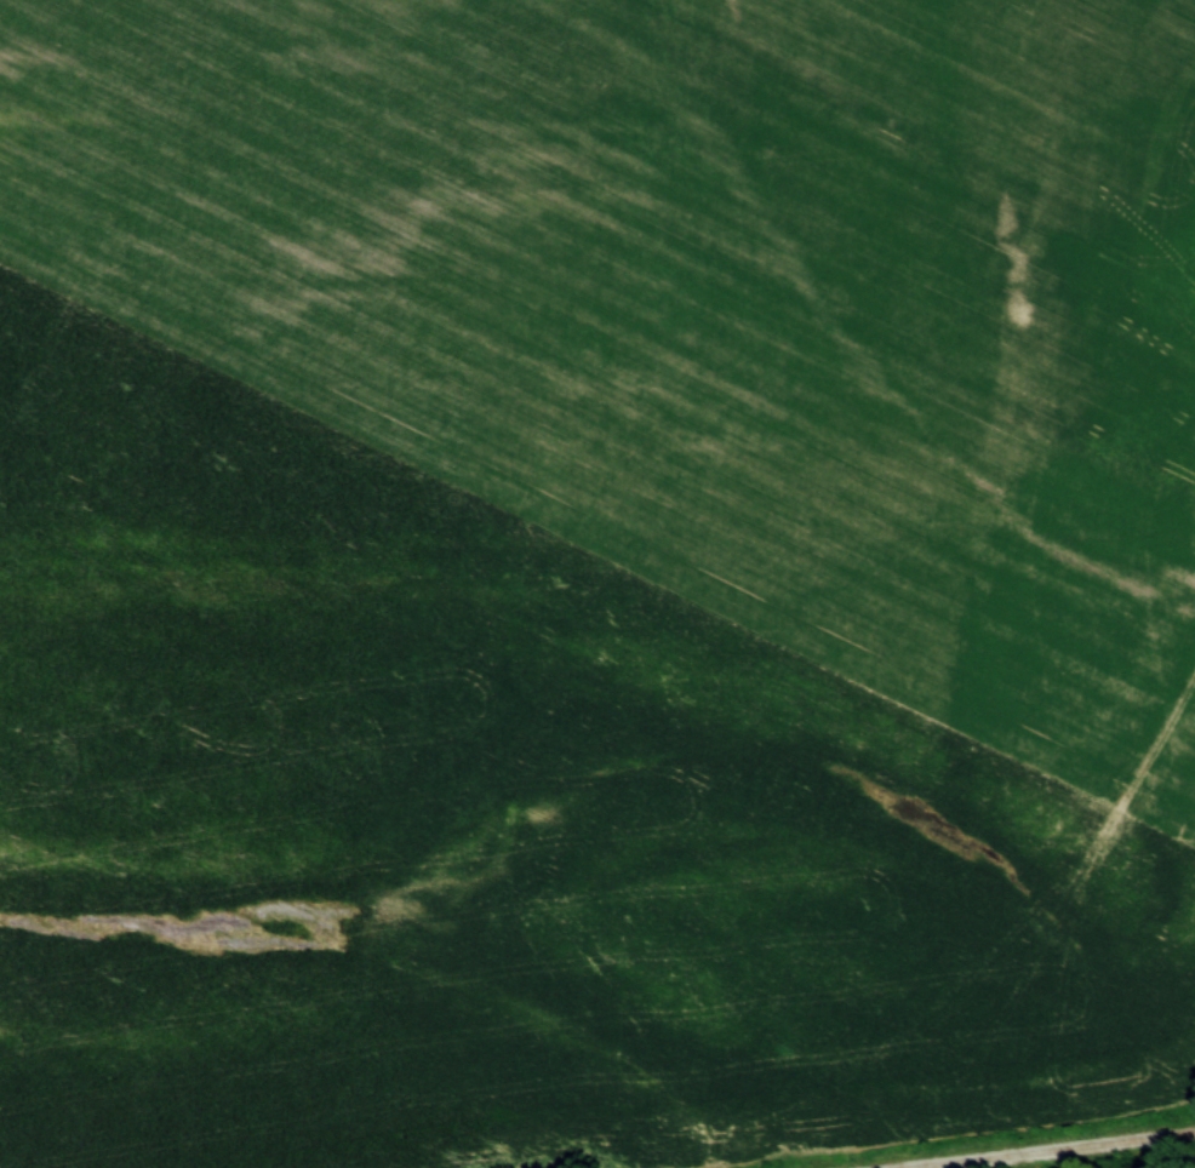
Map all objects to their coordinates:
railway: (1054, 1150)

